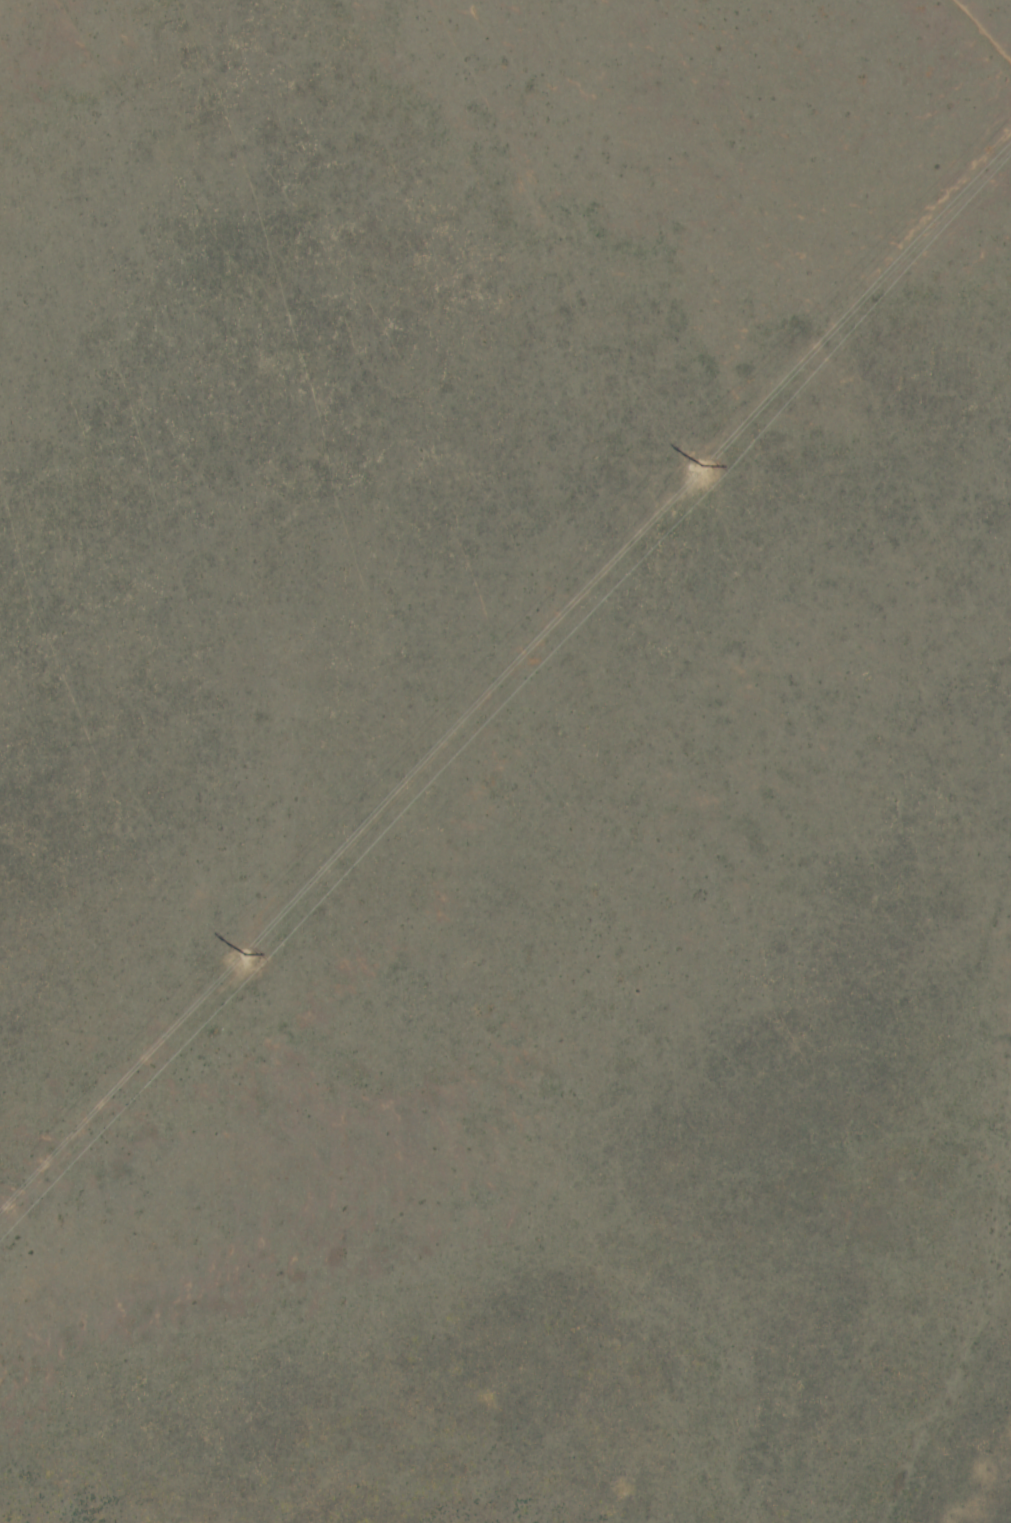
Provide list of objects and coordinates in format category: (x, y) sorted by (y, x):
power tower: (699, 466)
power tower: (242, 954)

